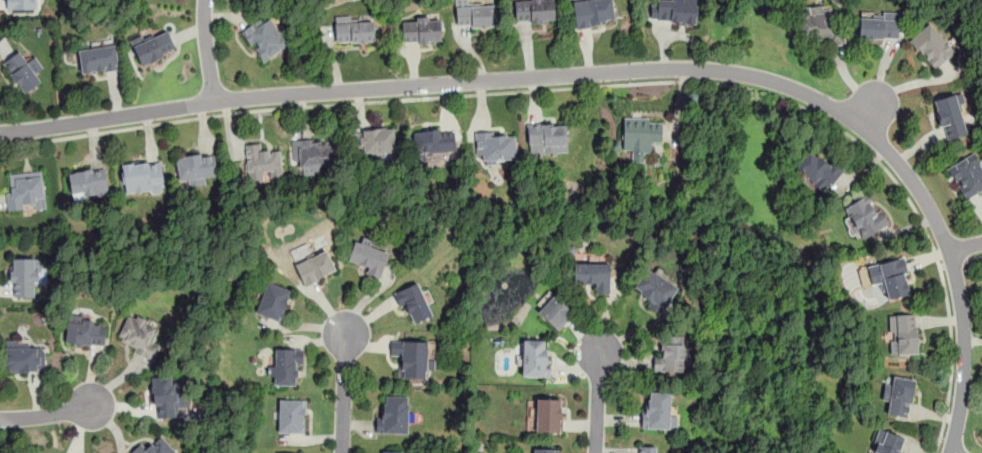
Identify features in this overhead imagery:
building: (279, 0)
building: (21, 4)
building: (534, 11)
building: (673, 11)
building: (592, 12)
building: (476, 14)
building: (819, 25)
building: (878, 26)
building: (421, 29)
building: (354, 30)
building: (265, 39)
building: (933, 44)
building: (153, 46)
road: (207, 51)
building: (98, 59)
building: (23, 71)
road: (513, 78)
road: (604, 85)
building: (951, 116)
building: (640, 136)
building: (547, 138)
building: (375, 142)
building: (433, 142)
building: (495, 146)
building: (314, 153)
building: (262, 163)
building: (196, 168)
building: (818, 170)
building: (967, 174)
building: (142, 176)
building: (88, 183)
building: (26, 190)
building: (865, 216)
road: (966, 247)
building: (367, 256)
road: (973, 258)
road: (951, 263)
building: (315, 267)
building: (592, 275)
building: (25, 277)
building: (891, 277)
building: (654, 289)
building: (273, 301)
building: (413, 303)
building: (553, 310)
building: (84, 331)
building: (903, 334)
building: (139, 335)
road: (964, 352)
building: (23, 356)
building: (671, 356)
building: (411, 357)
building: (535, 358)
building: (285, 367)
road: (344, 391)
building: (899, 395)
building: (167, 397)
road: (597, 400)
building: (658, 412)
road: (46, 415)
building: (393, 415)
building: (548, 415)
building: (291, 416)
building: (888, 442)
building: (155, 447)
building: (645, 449)
building: (546, 450)
building: (391, 452)

